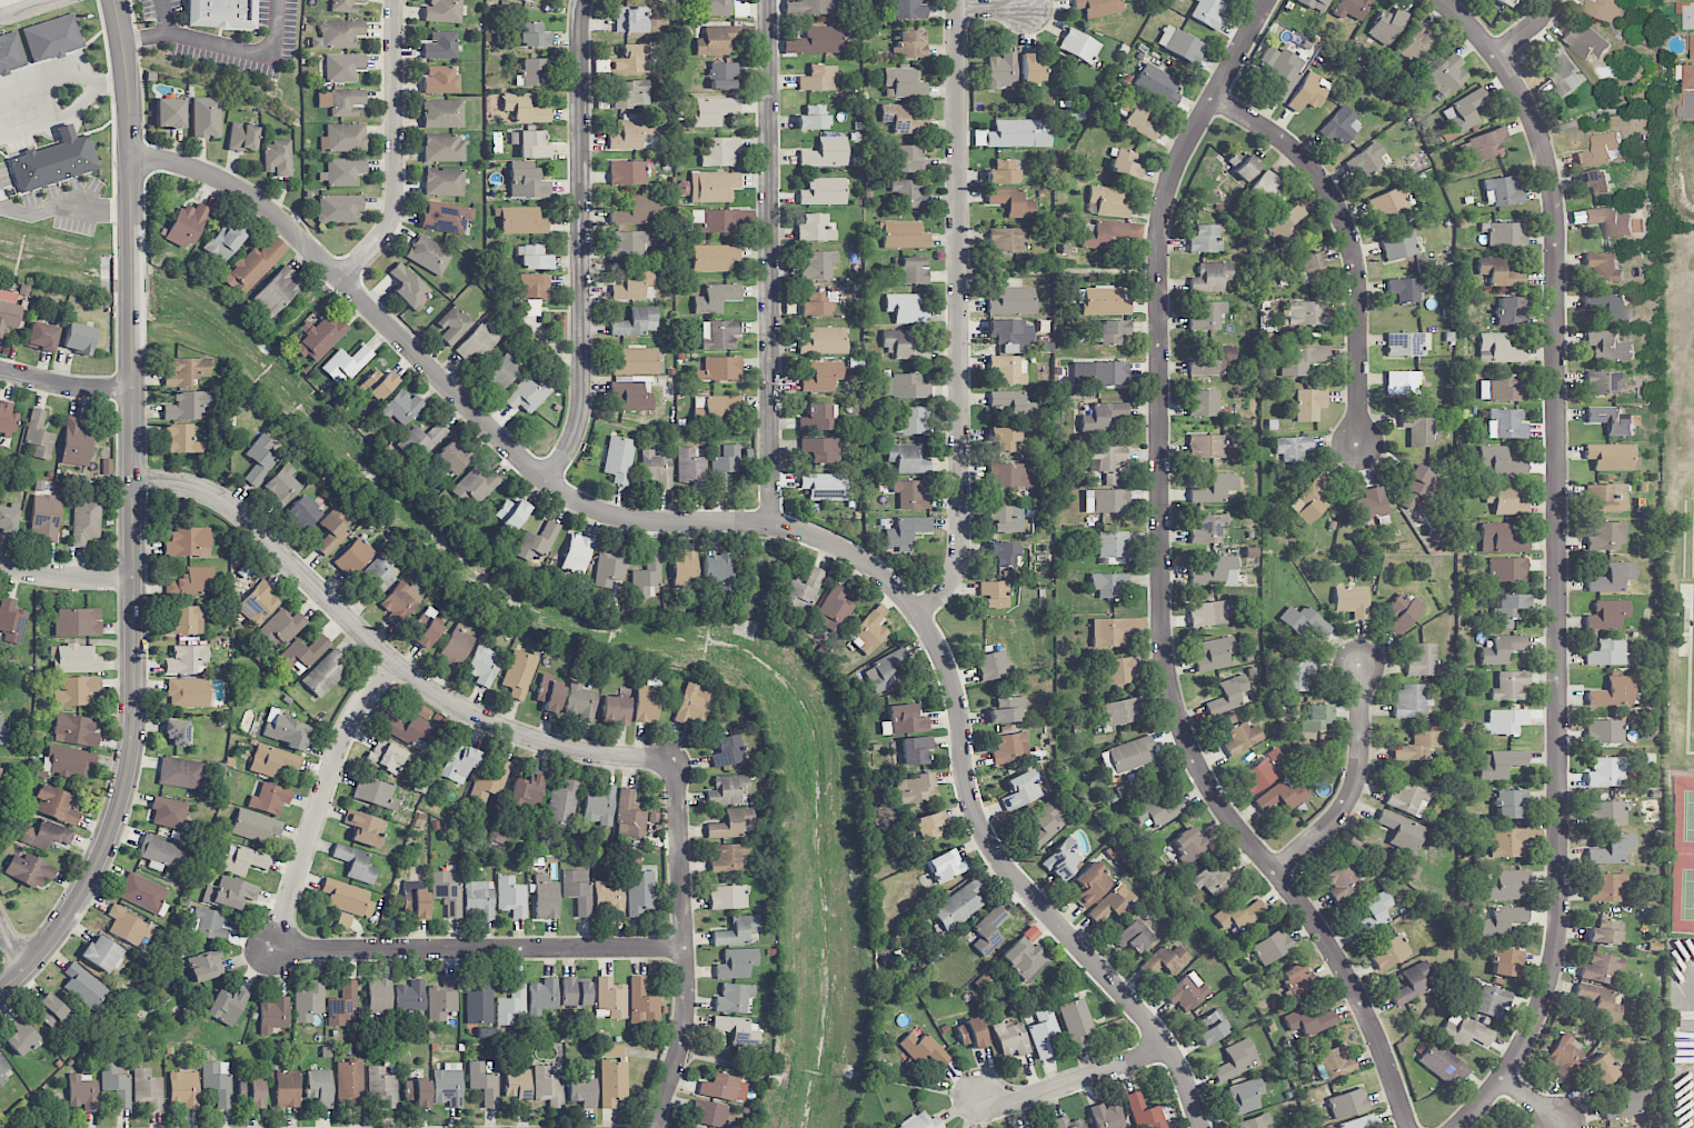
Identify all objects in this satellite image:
building: (527, 0)
building: (1687, 0)
building: (1503, 1)
building: (1316, 4)
building: (346, 6)
building: (1098, 7)
road: (24, 8)
building: (718, 8)
road: (995, 8)
building: (909, 9)
building: (1352, 9)
building: (1606, 9)
building: (442, 11)
building: (1208, 12)
building: (221, 13)
road: (163, 17)
building: (1690, 18)
building: (630, 20)
building: (1387, 26)
road: (1527, 29)
building: (337, 34)
building: (532, 36)
building: (53, 38)
building: (717, 40)
building: (815, 41)
building: (1415, 41)
building: (1586, 41)
building: (1691, 42)
building: (913, 43)
building: (1180, 44)
road: (221, 46)
building: (440, 46)
building: (1078, 46)
building: (10, 53)
building: (631, 60)
building: (343, 67)
building: (1032, 68)
building: (1281, 70)
building: (1002, 71)
building: (1563, 71)
building: (534, 72)
building: (723, 74)
building: (1446, 76)
building: (1688, 77)
building: (819, 79)
road: (62, 80)
building: (440, 80)
building: (905, 82)
building: (1157, 84)
building: (1307, 92)
building: (628, 93)
building: (340, 101)
building: (1687, 107)
building: (525, 109)
building: (713, 110)
building: (1464, 111)
building: (170, 112)
building: (442, 113)
street lamp: (147, 116)
building: (1137, 117)
building: (206, 118)
building: (813, 118)
building: (899, 119)
building: (1339, 126)
building: (1017, 134)
building: (631, 136)
building: (242, 137)
building: (345, 138)
building: (530, 144)
building: (1482, 146)
building: (442, 148)
road: (395, 149)
building: (1600, 150)
street lamp: (592, 152)
building: (719, 152)
building: (826, 152)
building: (277, 158)
building: (909, 159)
building: (1366, 160)
building: (54, 161)
building: (1124, 163)
building: (1242, 164)
building: (342, 171)
building: (627, 172)
building: (1002, 172)
street lamp: (152, 178)
building: (1595, 181)
building: (444, 182)
building: (528, 183)
building: (716, 187)
building: (823, 191)
building: (1267, 191)
building: (1503, 191)
building: (909, 194)
building: (1108, 201)
building: (1012, 202)
building: (1387, 203)
building: (338, 208)
road: (64, 210)
building: (634, 210)
building: (447, 218)
building: (720, 220)
building: (521, 221)
building: (1613, 221)
building: (1286, 222)
building: (187, 224)
building: (814, 228)
building: (1108, 233)
building: (1504, 233)
building: (905, 234)
building: (1203, 239)
building: (1006, 240)
building: (222, 242)
road: (1352, 242)
building: (629, 243)
road: (580, 244)
building: (1398, 246)
street lamp: (387, 251)
building: (428, 254)
building: (534, 258)
building: (714, 258)
road: (770, 263)
building: (819, 264)
building: (253, 266)
building: (1312, 266)
building: (1603, 267)
building: (909, 270)
building: (1499, 272)
building: (1210, 277)
building: (635, 285)
building: (407, 286)
building: (1406, 289)
building: (276, 291)
building: (532, 291)
building: (716, 298)
building: (1012, 301)
building: (1104, 301)
building: (817, 303)
building: (905, 308)
building: (1612, 309)
building: (1511, 310)
building: (10, 311)
building: (1305, 313)
building: (1209, 315)
road: (960, 316)
building: (636, 322)
building: (452, 325)
building: (1110, 331)
building: (1009, 333)
building: (718, 335)
building: (42, 337)
building: (319, 337)
building: (79, 338)
building: (479, 340)
building: (824, 341)
building: (898, 342)
building: (1407, 343)
building: (1608, 346)
building: (1498, 349)
building: (634, 361)
building: (1213, 361)
building: (1302, 361)
building: (346, 365)
building: (720, 369)
building: (189, 370)
building: (1008, 370)
building: (501, 373)
building: (1099, 373)
building: (821, 377)
building: (1603, 382)
building: (1402, 383)
building: (378, 385)
road: (64, 386)
building: (905, 387)
building: (1501, 389)
building: (527, 395)
street lamp: (111, 401)
building: (1204, 403)
building: (1309, 403)
building: (1013, 405)
building: (187, 406)
building: (402, 408)
building: (710, 409)
building: (1102, 417)
building: (7, 419)
building: (914, 420)
building: (1612, 420)
building: (1506, 423)
building: (1417, 428)
building: (39, 436)
building: (181, 439)
building: (1004, 439)
building: (422, 440)
building: (76, 442)
building: (1207, 447)
building: (1292, 448)
building: (821, 450)
building: (455, 456)
building: (1106, 457)
building: (1612, 457)
building: (619, 459)
building: (908, 459)
building: (259, 460)
building: (1498, 462)
building: (725, 467)
building: (656, 468)
building: (691, 469)
street lamp: (114, 472)
building: (1010, 476)
street lamp: (568, 478)
building: (476, 486)
building: (824, 486)
building: (281, 487)
building: (1214, 489)
building: (910, 495)
building: (1606, 498)
building: (1504, 499)
building: (1309, 500)
building: (1106, 501)
building: (1369, 505)
building: (302, 512)
road: (131, 513)
building: (511, 513)
building: (46, 518)
building: (1002, 519)
building: (8, 520)
building: (86, 521)
road: (774, 527)
building: (1207, 528)
building: (333, 529)
building: (906, 532)
building: (1605, 537)
building: (1501, 539)
building: (537, 541)
building: (187, 542)
building: (1112, 545)
building: (576, 553)
building: (1004, 553)
building: (353, 557)
road: (1560, 559)
building: (609, 567)
building: (1507, 569)
building: (684, 570)
building: (1222, 570)
building: (716, 571)
road: (66, 577)
building: (377, 577)
building: (646, 577)
building: (1612, 578)
building: (193, 580)
road: (1160, 583)
building: (1108, 585)
building: (801, 591)
building: (994, 595)
building: (401, 601)
building: (1351, 601)
building: (259, 603)
building: (834, 609)
building: (1509, 609)
building: (1402, 611)
building: (1209, 612)
building: (1607, 615)
building: (12, 620)
building: (185, 620)
building: (77, 621)
building: (1303, 621)
building: (281, 628)
building: (427, 628)
building: (1113, 630)
building: (868, 632)
building: (455, 648)
building: (1503, 649)
building: (303, 652)
road: (385, 653)
building: (1215, 653)
building: (1606, 653)
building: (76, 659)
building: (187, 659)
building: (1419, 660)
building: (482, 666)
building: (992, 666)
building: (884, 671)
building: (1118, 671)
building: (325, 673)
building: (519, 673)
building: (1297, 673)
building: (1511, 686)
building: (76, 690)
building: (188, 692)
building: (1613, 692)
building: (549, 693)
building: (1227, 696)
building: (1411, 701)
building: (581, 702)
building: (647, 703)
building: (692, 705)
building: (1007, 709)
building: (616, 710)
building: (1123, 711)
building: (1315, 718)
building: (904, 720)
building: (1505, 721)
building: (409, 729)
building: (74, 730)
building: (176, 731)
building: (2, 732)
building: (286, 732)
building: (1605, 732)
building: (1240, 738)
building: (1417, 746)
building: (1010, 749)
building: (915, 750)
building: (727, 751)
building: (1129, 755)
building: (387, 757)
building: (272, 760)
building: (68, 761)
building: (458, 762)
building: (1501, 763)
building: (1259, 772)
building: (1606, 772)
building: (180, 773)
building: (489, 781)
road: (1355, 786)
building: (915, 788)
building: (727, 790)
building: (1020, 790)
building: (527, 791)
building: (376, 792)
building: (1281, 797)
building: (269, 799)
building: (1407, 799)
road: (322, 800)
building: (1511, 803)
building: (57, 805)
building: (561, 805)
building: (599, 805)
building: (1157, 811)
building: (169, 812)
building: (1607, 812)
building: (630, 815)
park: (1683, 816)
building: (731, 823)
building: (1046, 823)
building: (927, 826)
building: (256, 827)
building: (365, 828)
building: (1402, 831)
building: (46, 835)
building: (1507, 842)
building: (1189, 845)
building: (1613, 850)
building: (161, 852)
building: (727, 858)
building: (1062, 860)
building: (243, 861)
building: (355, 864)
building: (945, 866)
building: (30, 871)
building: (1213, 878)
building: (1342, 880)
building: (1092, 884)
building: (1508, 885)
building: (1606, 888)
building: (447, 890)
building: (577, 890)
park: (1682, 891)
building: (639, 892)
building: (143, 894)
building: (230, 894)
building: (511, 897)
building: (727, 897)
building: (347, 898)
building: (415, 898)
building: (545, 898)
building: (479, 899)
building: (608, 899)
building: (1115, 904)
building: (958, 906)
building: (1373, 914)
building: (1238, 915)
building: (343, 919)
building: (1503, 921)
building: (208, 924)
building: (128, 927)
building: (737, 930)
building: (988, 931)
building: (1605, 932)
building: (1133, 936)
road: (11, 945)
building: (1272, 947)
road: (687, 948)
road: (480, 949)
building: (1387, 951)
building: (101, 952)
building: (1024, 958)
street lamp: (1, 960)
building: (1166, 960)
building: (1506, 962)
building: (736, 964)
building: (206, 966)
building: (1601, 968)
building: (1296, 979)
building: (1412, 982)
building: (84, 986)
building: (1186, 991)
building: (575, 992)
building: (379, 996)
building: (542, 996)
building: (410, 997)
building: (611, 997)
building: (734, 998)
building: (442, 999)
building: (308, 1000)
building: (1491, 1000)
building: (479, 1001)
building: (1600, 1001)
building: (642, 1004)
building: (343, 1005)
building: (512, 1005)
building: (227, 1006)
road: (1686, 1008)
building: (51, 1009)
building: (273, 1015)
building: (1308, 1019)
building: (1076, 1022)
building: (1212, 1026)
building: (737, 1028)
building: (1042, 1031)
building: (1465, 1031)
building: (971, 1034)
building: (21, 1037)
building: (1010, 1039)
building: (923, 1049)
building: (610, 1051)
building: (1564, 1056)
building: (1236, 1060)
building: (1334, 1061)
building: (1442, 1064)
building: (2, 1071)
building: (1602, 1071)
road: (1079, 1080)
building: (218, 1081)
building: (612, 1081)
building: (350, 1082)
building: (484, 1082)
building: (116, 1085)
building: (448, 1085)
building: (383, 1086)
building: (518, 1086)
building: (319, 1087)
building: (548, 1087)
building: (148, 1088)
building: (725, 1088)
building: (183, 1089)
building: (287, 1089)
building: (82, 1090)
building: (581, 1091)
building: (251, 1092)
building: (417, 1092)
building: (1244, 1097)
building: (1626, 1101)
building: (1347, 1104)
road: (1534, 1104)
building: (1145, 1112)
building: (710, 1115)
building: (1107, 1116)
building: (1254, 1121)
building: (920, 1122)
building: (1067, 1122)
building: (1358, 1122)
building: (1030, 1127)
building: (1608, 1127)

